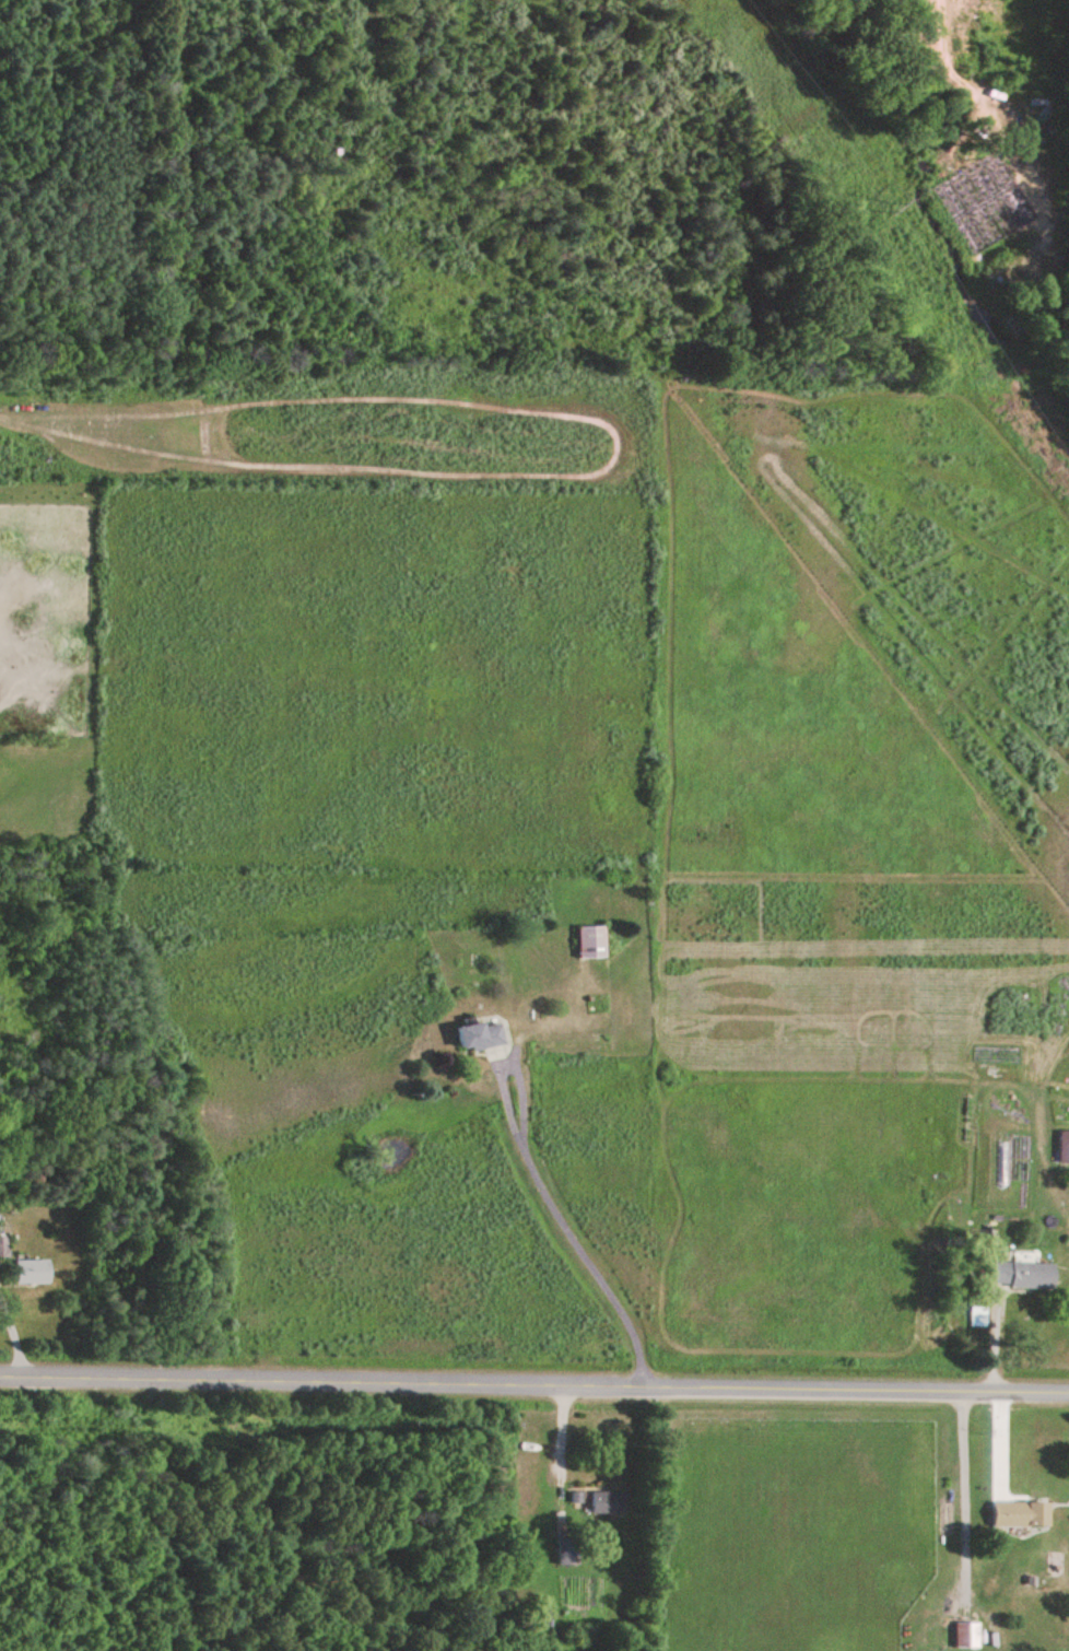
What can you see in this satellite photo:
power tower: (888, 206)
building: (591, 944)
building: (480, 1038)
building: (1062, 1149)
road: (548, 1245)
building: (3, 1250)
building: (33, 1274)
building: (1023, 1277)
road: (533, 1393)
road: (964, 1498)
building: (608, 1503)
building: (1021, 1515)
building: (568, 1556)
building: (968, 1638)

